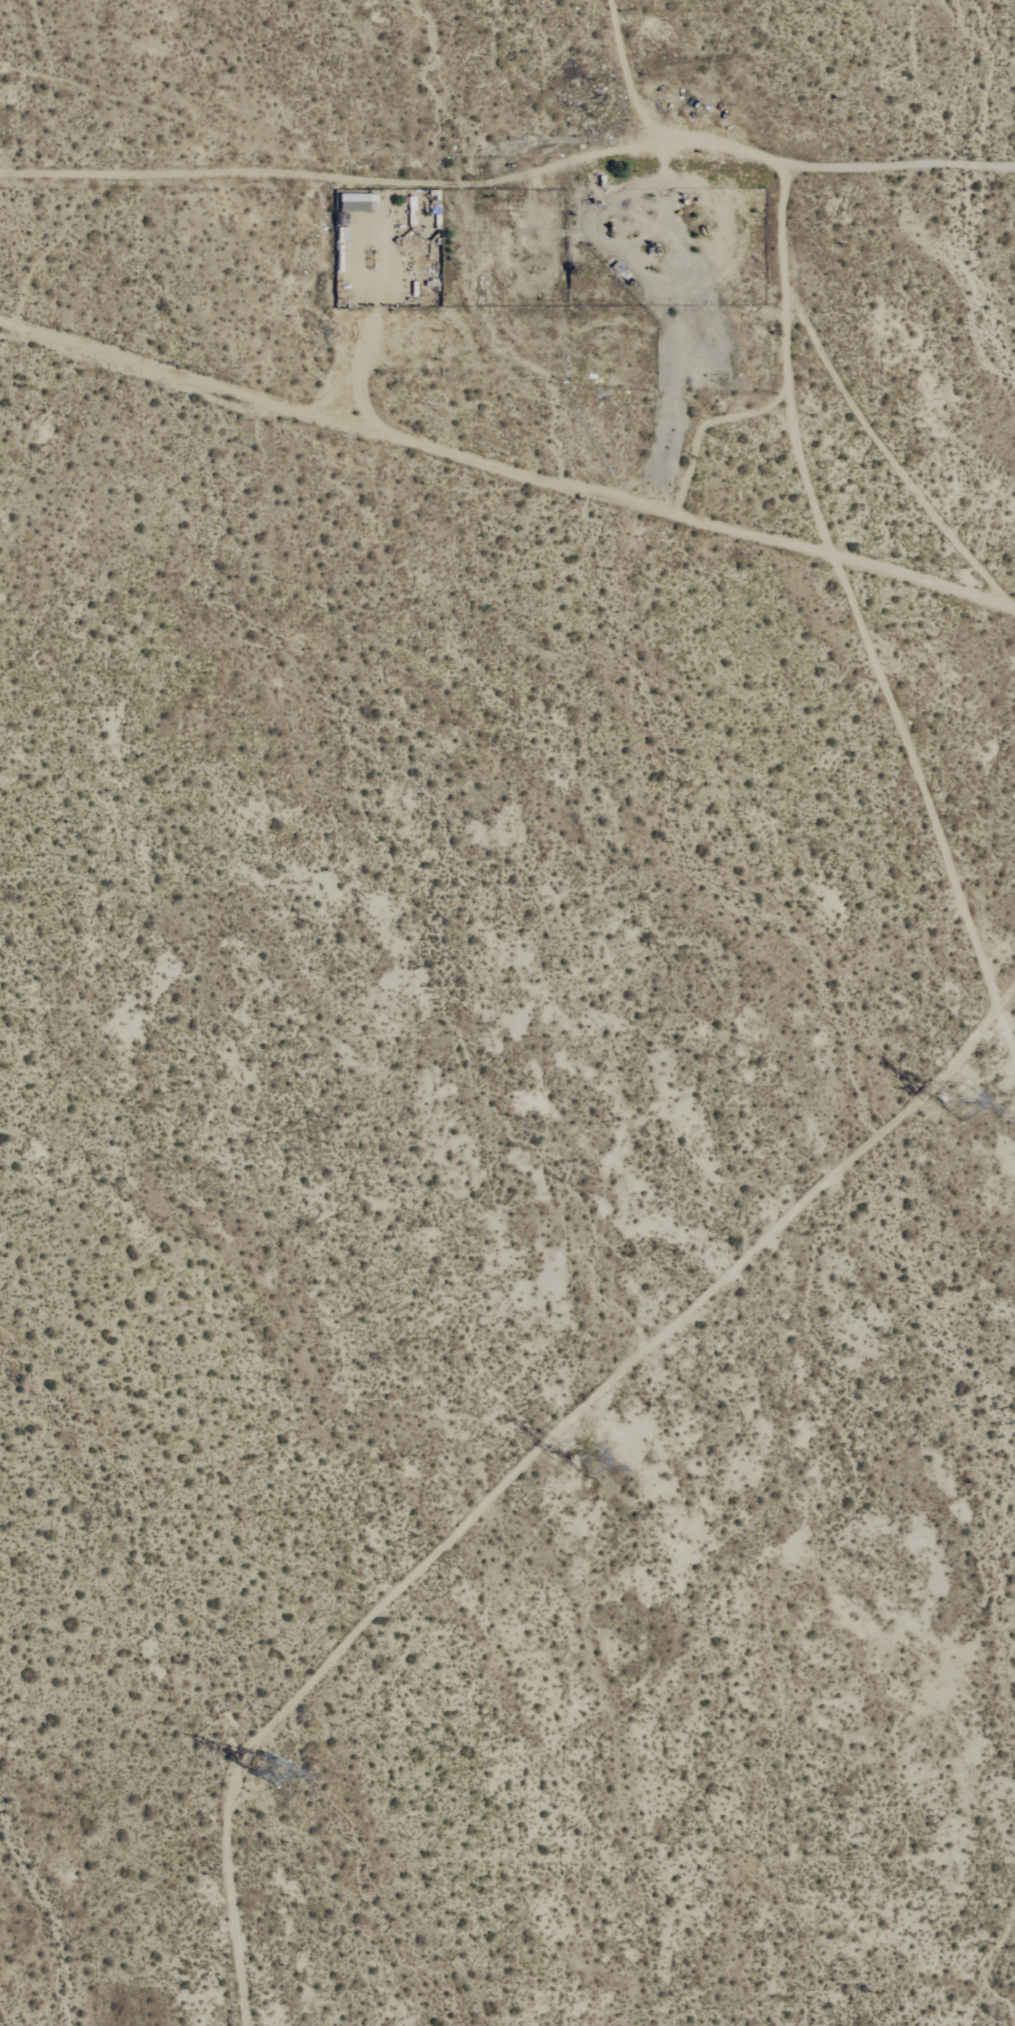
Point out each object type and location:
road: (511, 173)
road: (508, 469)
power tower: (960, 1104)
power tower: (584, 1454)
power tower: (263, 1762)

